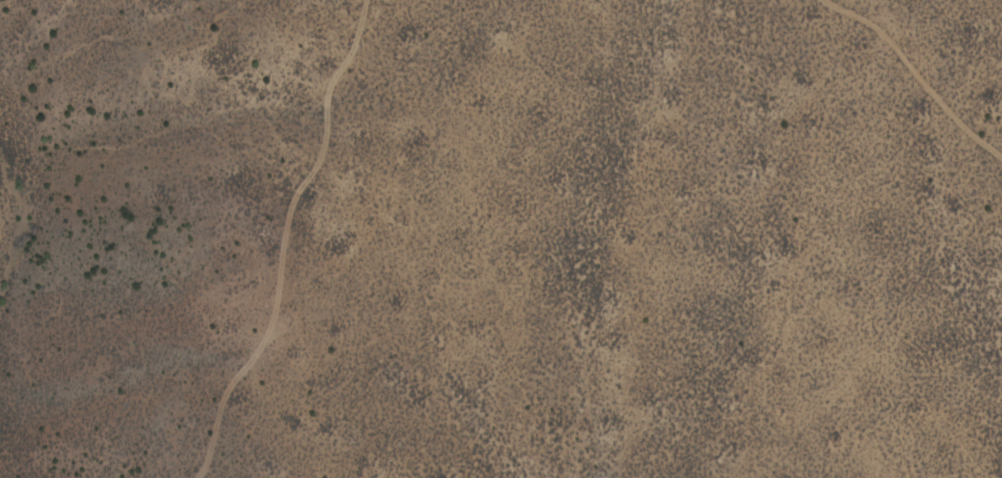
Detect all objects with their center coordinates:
road: (932, 72)

